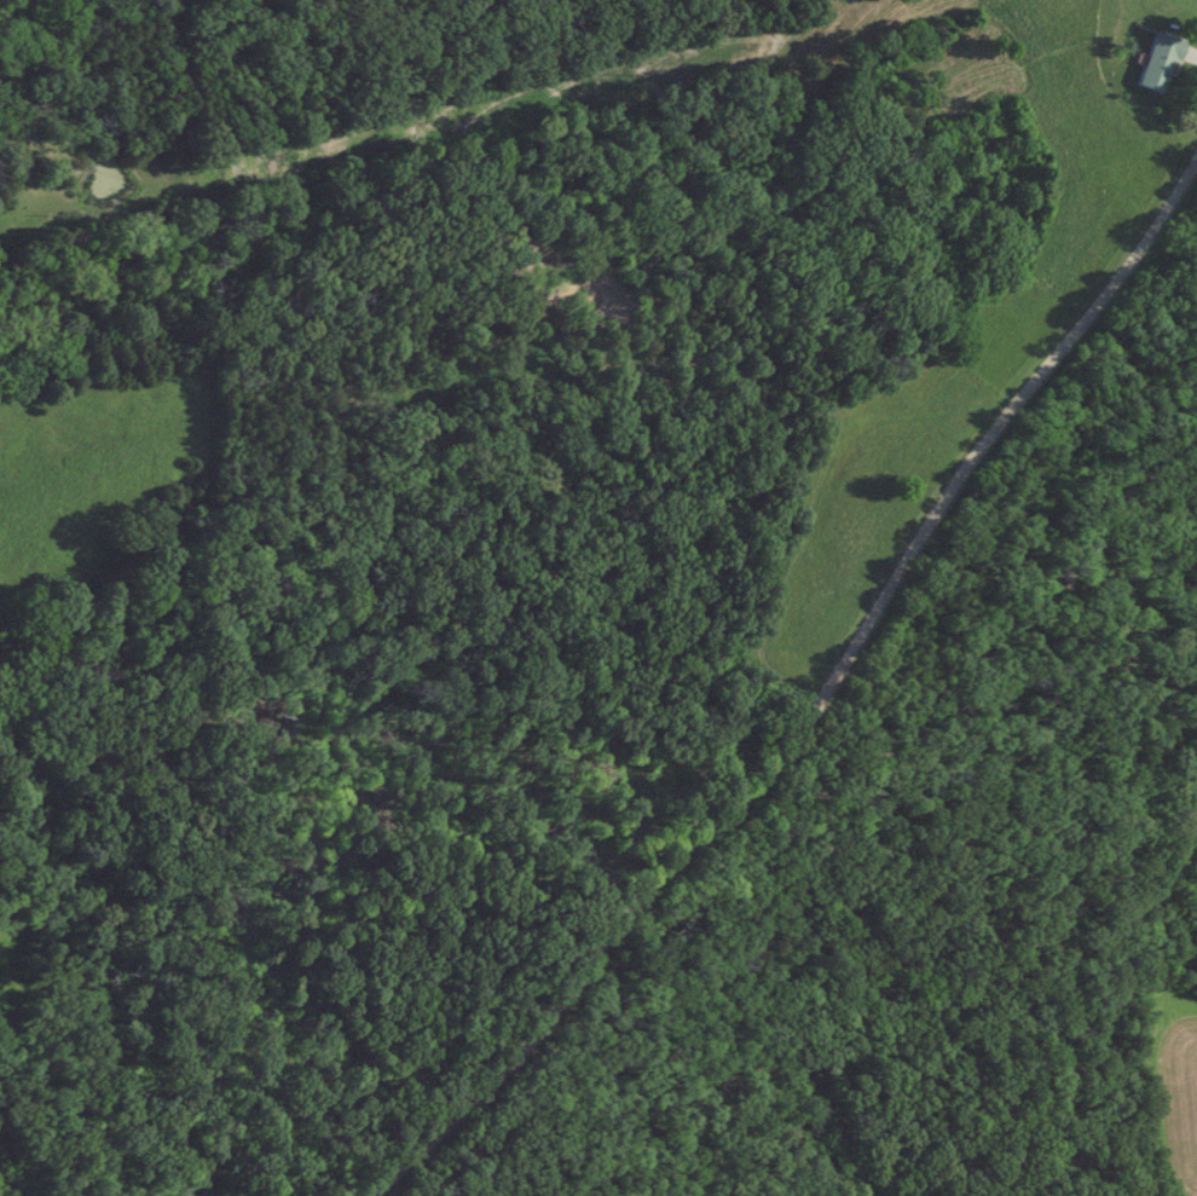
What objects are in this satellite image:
building: (1160, 63)
road: (816, 700)

